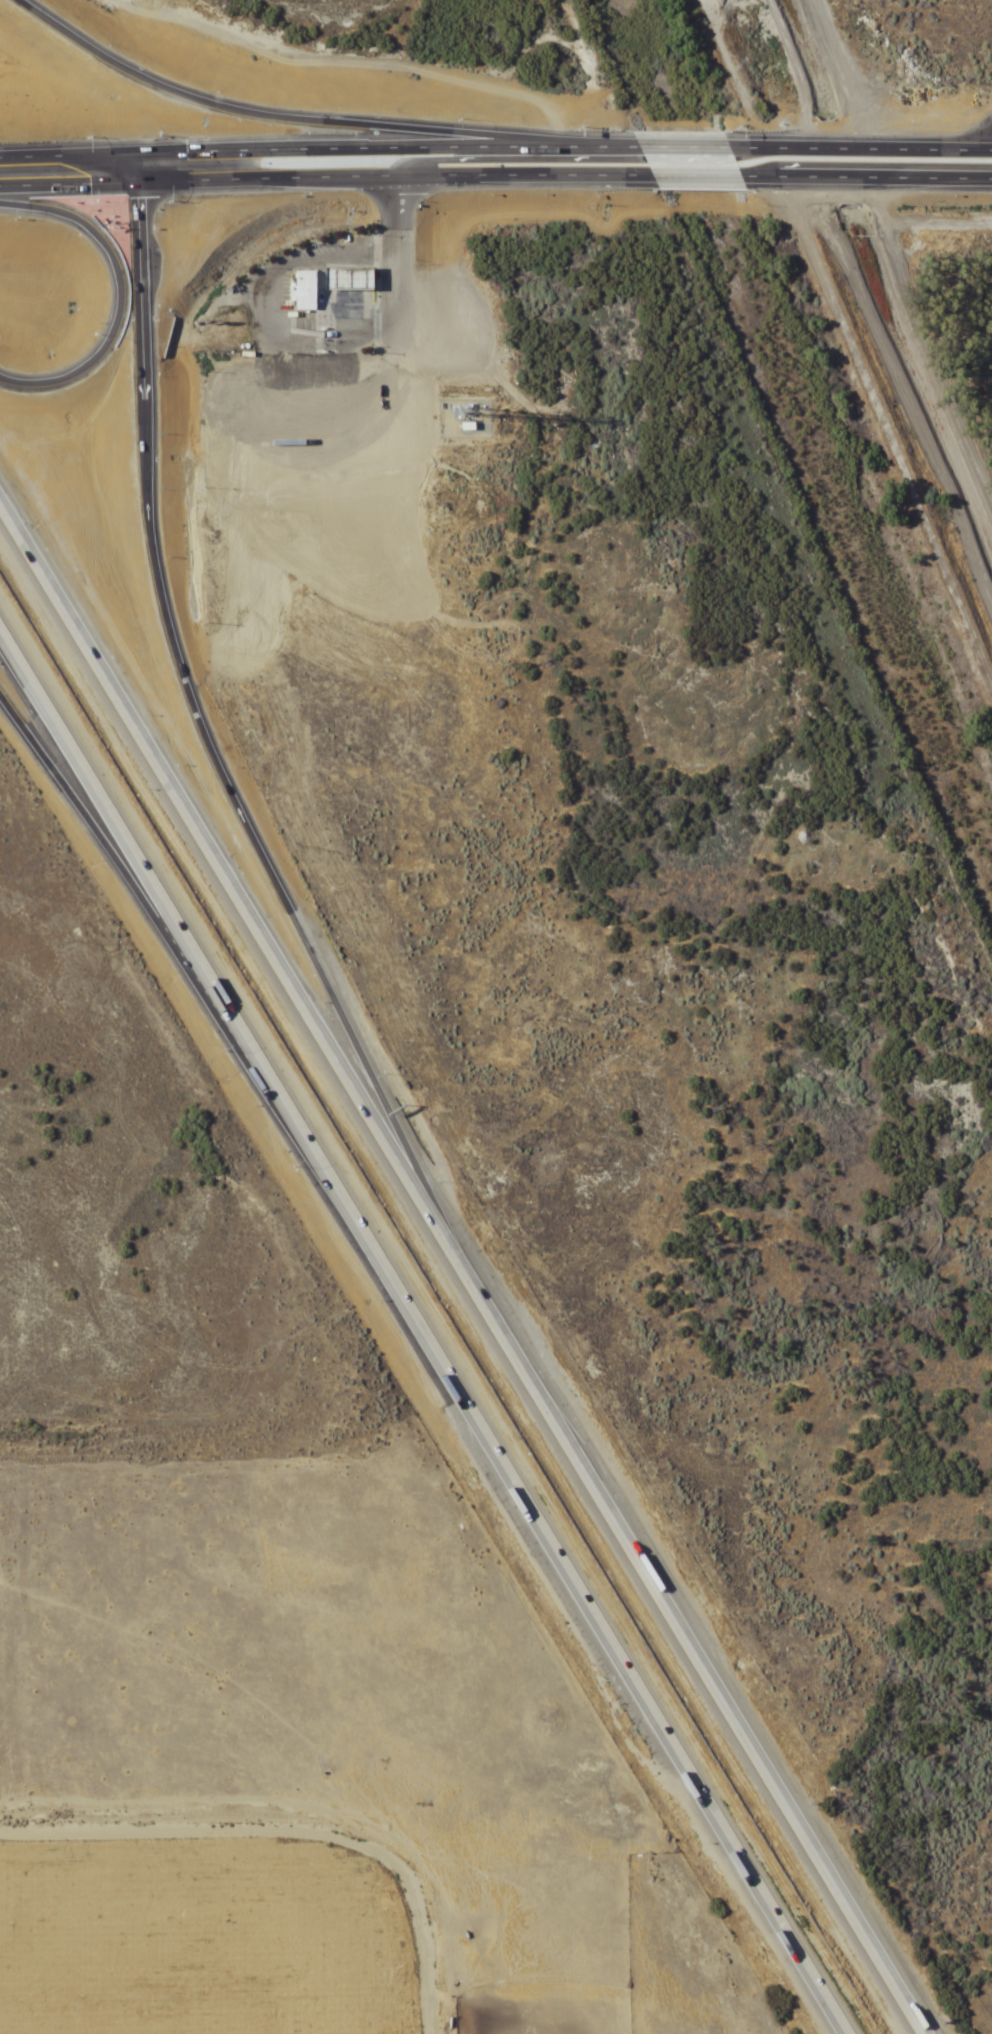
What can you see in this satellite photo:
road: (357, 61)
road: (121, 70)
road: (378, 126)
road: (684, 150)
road: (421, 151)
road: (860, 153)
traffic signals: (234, 154)
road: (101, 157)
road: (202, 168)
road: (429, 174)
road: (699, 181)
road: (867, 182)
traffic signals: (176, 183)
road: (101, 185)
traffic signals: (202, 198)
road: (243, 199)
road: (200, 218)
road: (396, 259)
building: (348, 280)
building: (302, 291)
road: (908, 383)
road: (157, 638)
road: (67, 795)
road: (227, 865)
crop: (763, 993)
road: (401, 1123)
road: (426, 1324)
crop: (281, 1575)
road: (693, 1640)
road: (258, 1881)

